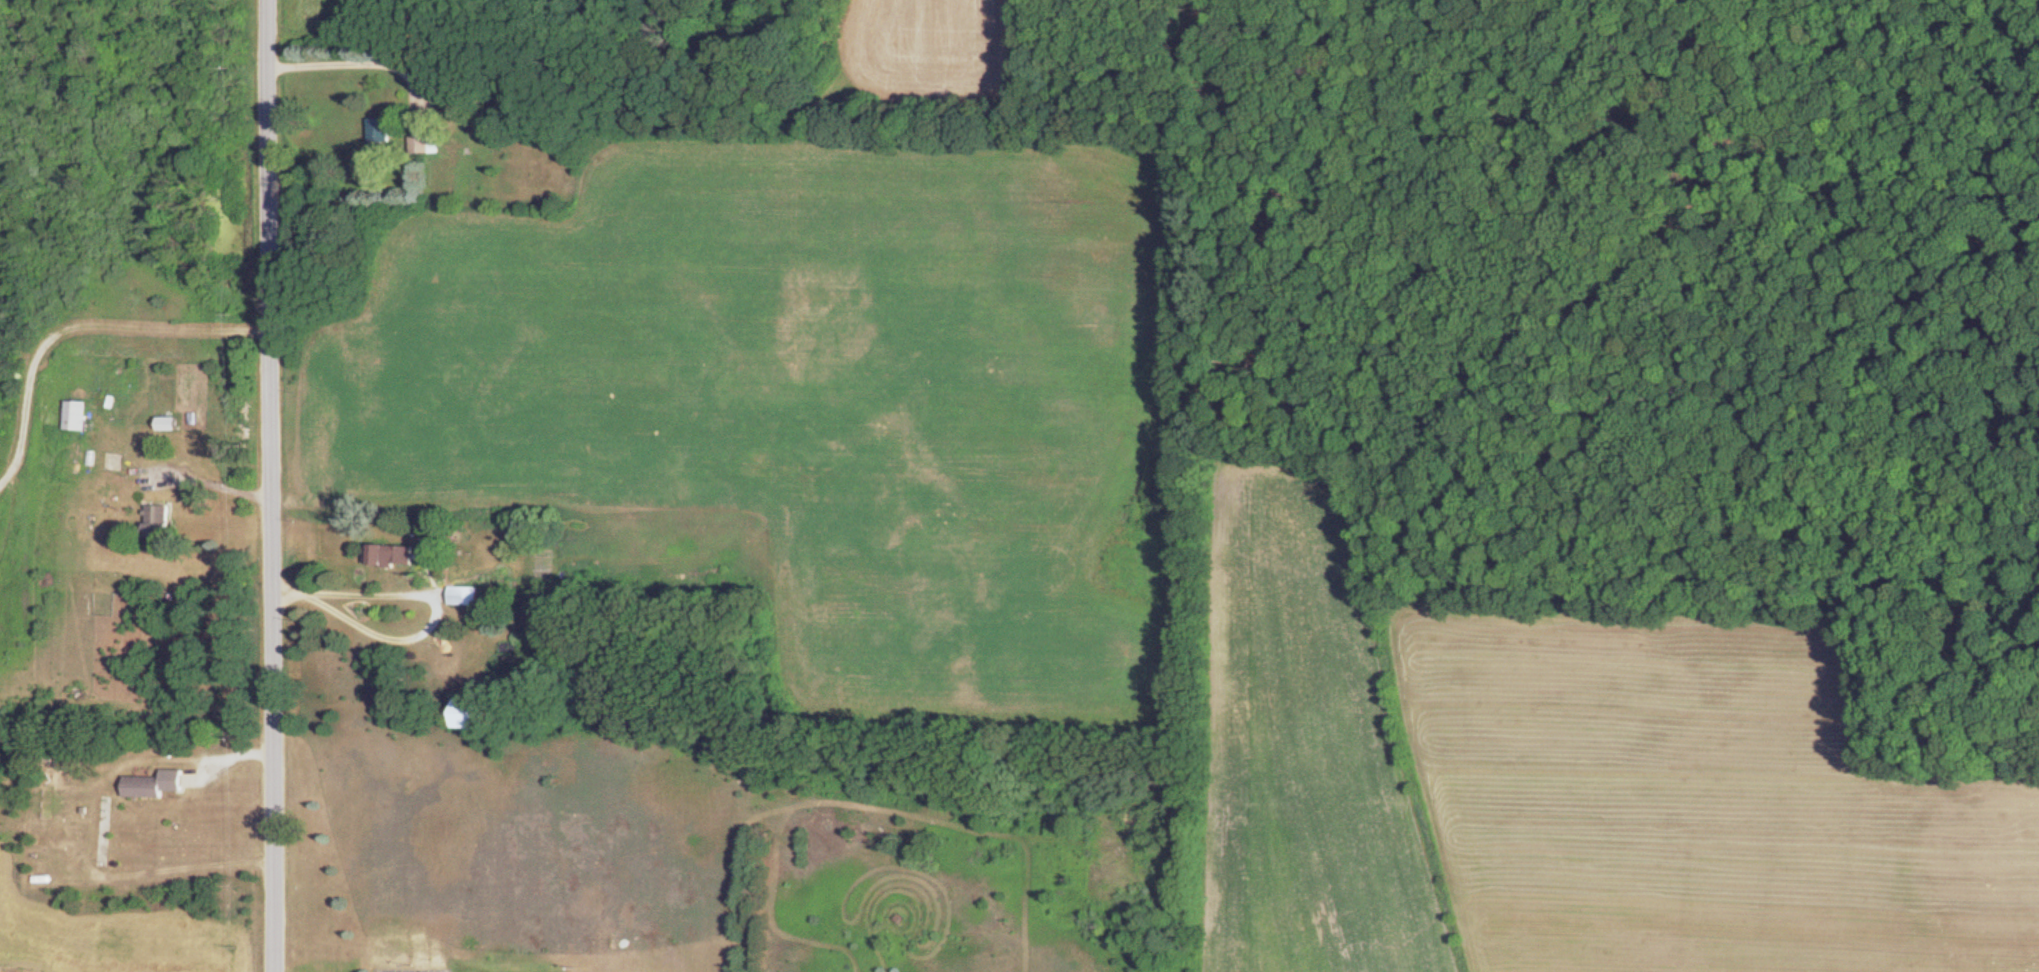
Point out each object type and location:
road: (354, 65)
building: (382, 134)
building: (427, 148)
road: (72, 328)
building: (78, 419)
building: (171, 428)
road: (206, 479)
road: (260, 486)
building: (158, 525)
building: (392, 559)
building: (467, 599)
road: (428, 600)
building: (477, 718)
building: (155, 788)
building: (102, 849)

